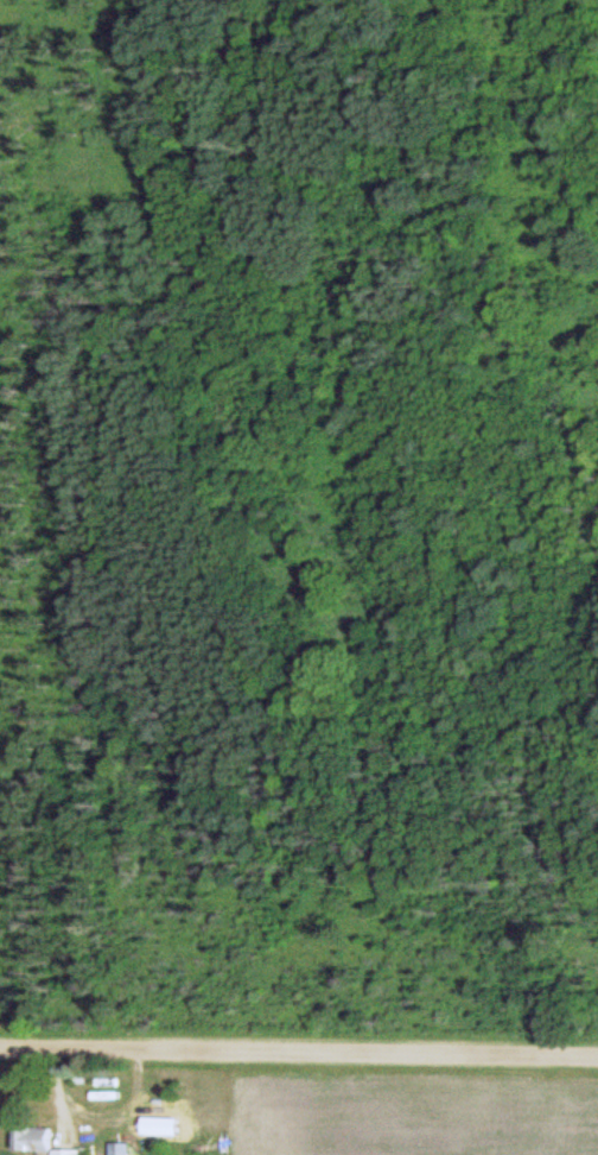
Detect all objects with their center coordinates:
road: (299, 1052)
building: (33, 1140)
building: (119, 1148)
building: (64, 1151)

